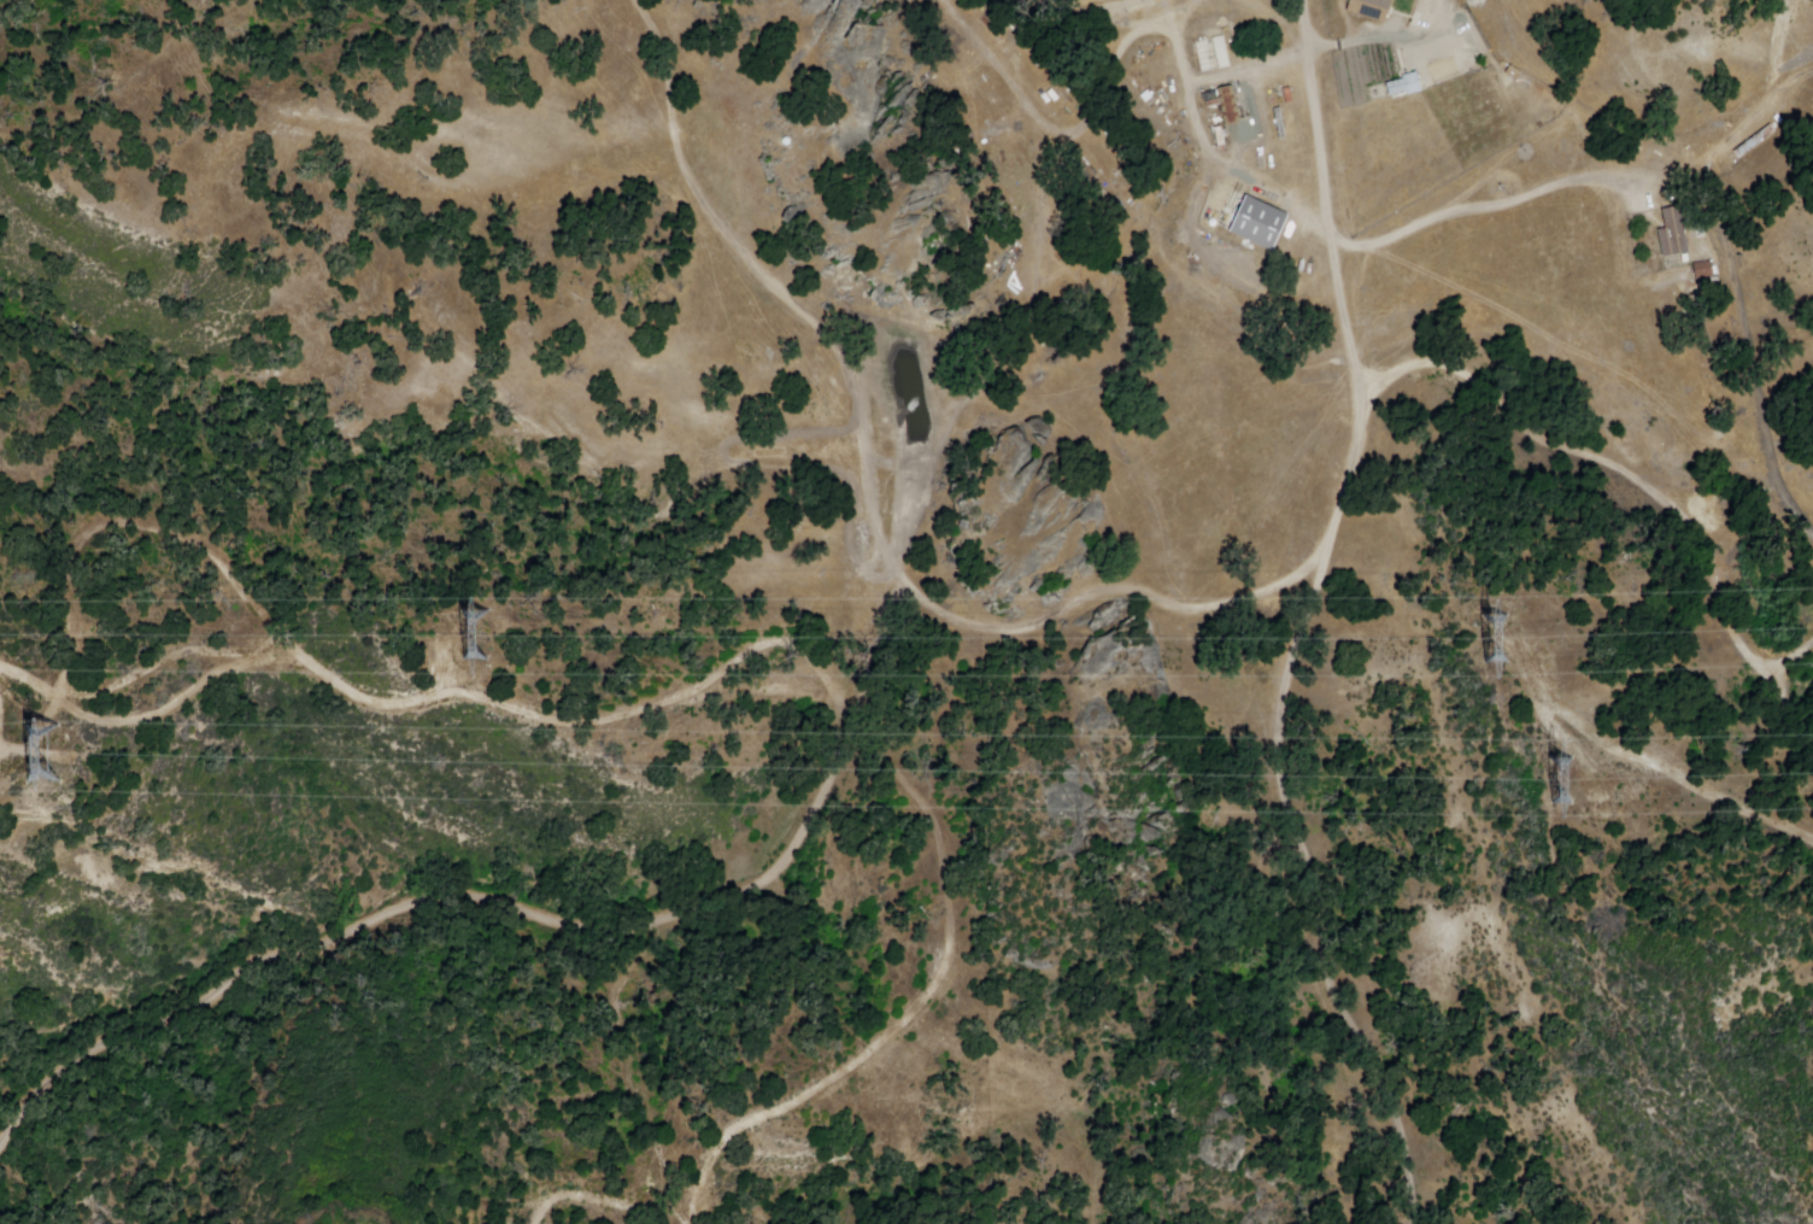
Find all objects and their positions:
building: (845, 8)
building: (1371, 8)
building: (1213, 54)
road: (1303, 55)
building: (1406, 86)
building: (1230, 106)
building: (1750, 141)
road: (1631, 203)
building: (1255, 221)
building: (1674, 234)
building: (1703, 270)
building: (882, 299)
road: (1344, 391)
road: (1644, 494)
power tower: (465, 613)
road: (1032, 613)
power tower: (1477, 620)
road: (426, 683)
power tower: (39, 728)
power tower: (1544, 760)
road: (491, 885)
road: (1301, 894)

